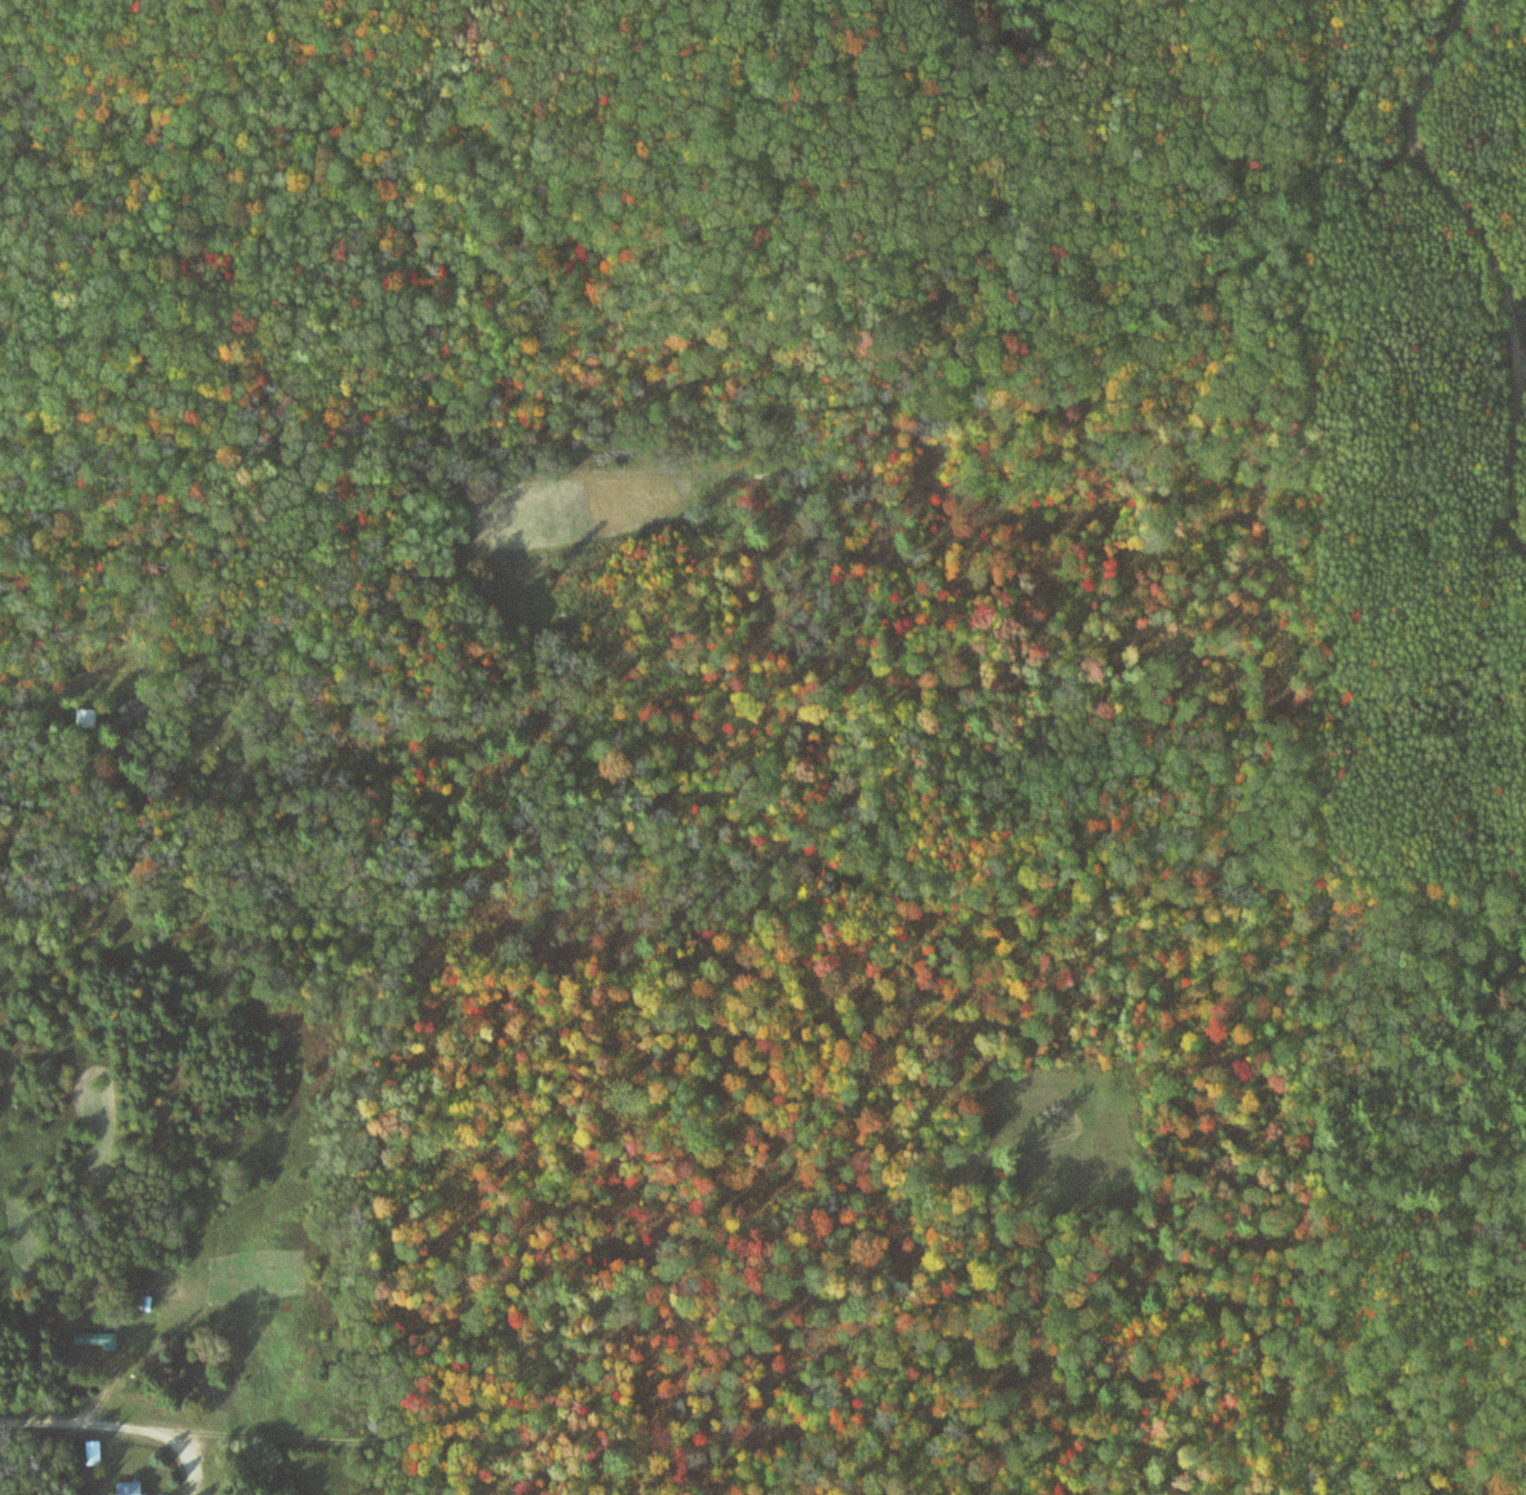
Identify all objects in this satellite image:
road: (405, 239)
road: (1516, 341)
road: (676, 408)
building: (81, 718)
road: (614, 1296)
building: (93, 1338)
road: (90, 1424)
building: (90, 1453)
building: (124, 1488)

